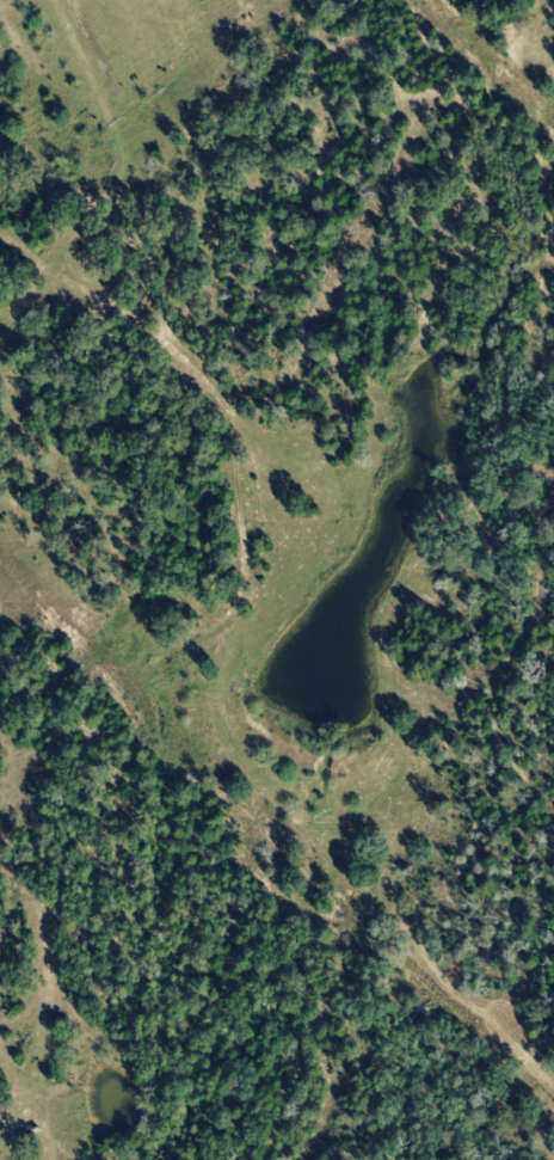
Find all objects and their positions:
road: (39, 945)

